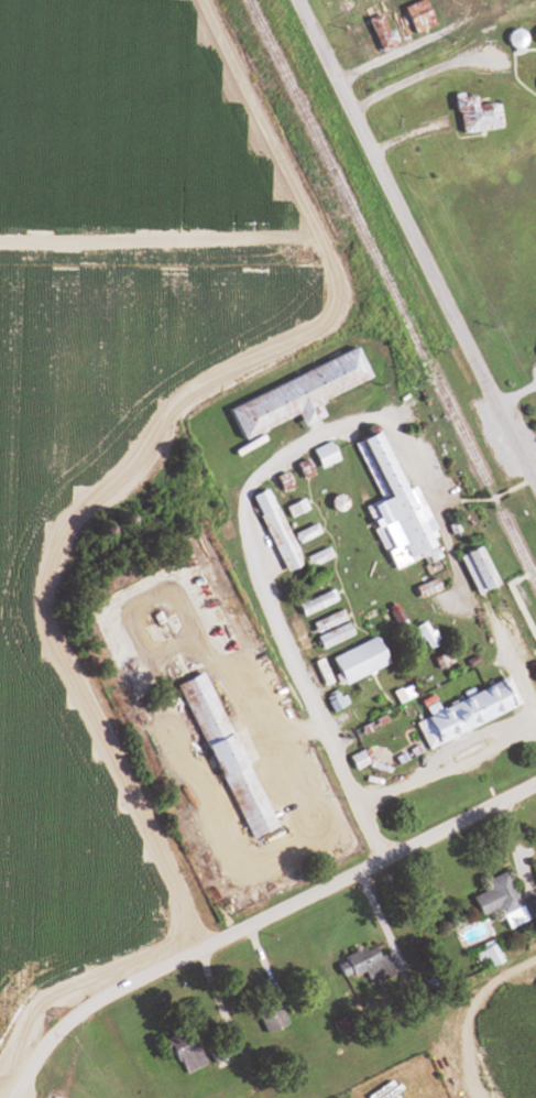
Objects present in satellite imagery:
road: (263, 120)
road: (302, 239)
road: (414, 247)
railway: (389, 293)
building: (297, 395)
building: (401, 503)
building: (277, 530)
building: (307, 532)
road: (396, 534)
building: (319, 556)
building: (479, 569)
building: (317, 601)
building: (329, 620)
building: (336, 634)
building: (427, 634)
building: (361, 659)
road: (78, 667)
road: (300, 676)
building: (466, 714)
road: (440, 747)
building: (227, 755)
building: (505, 901)
road: (258, 922)
building: (357, 965)
road: (424, 981)
building: (271, 1013)
building: (342, 1024)
building: (186, 1050)
road: (372, 1066)
building: (54, 1097)

